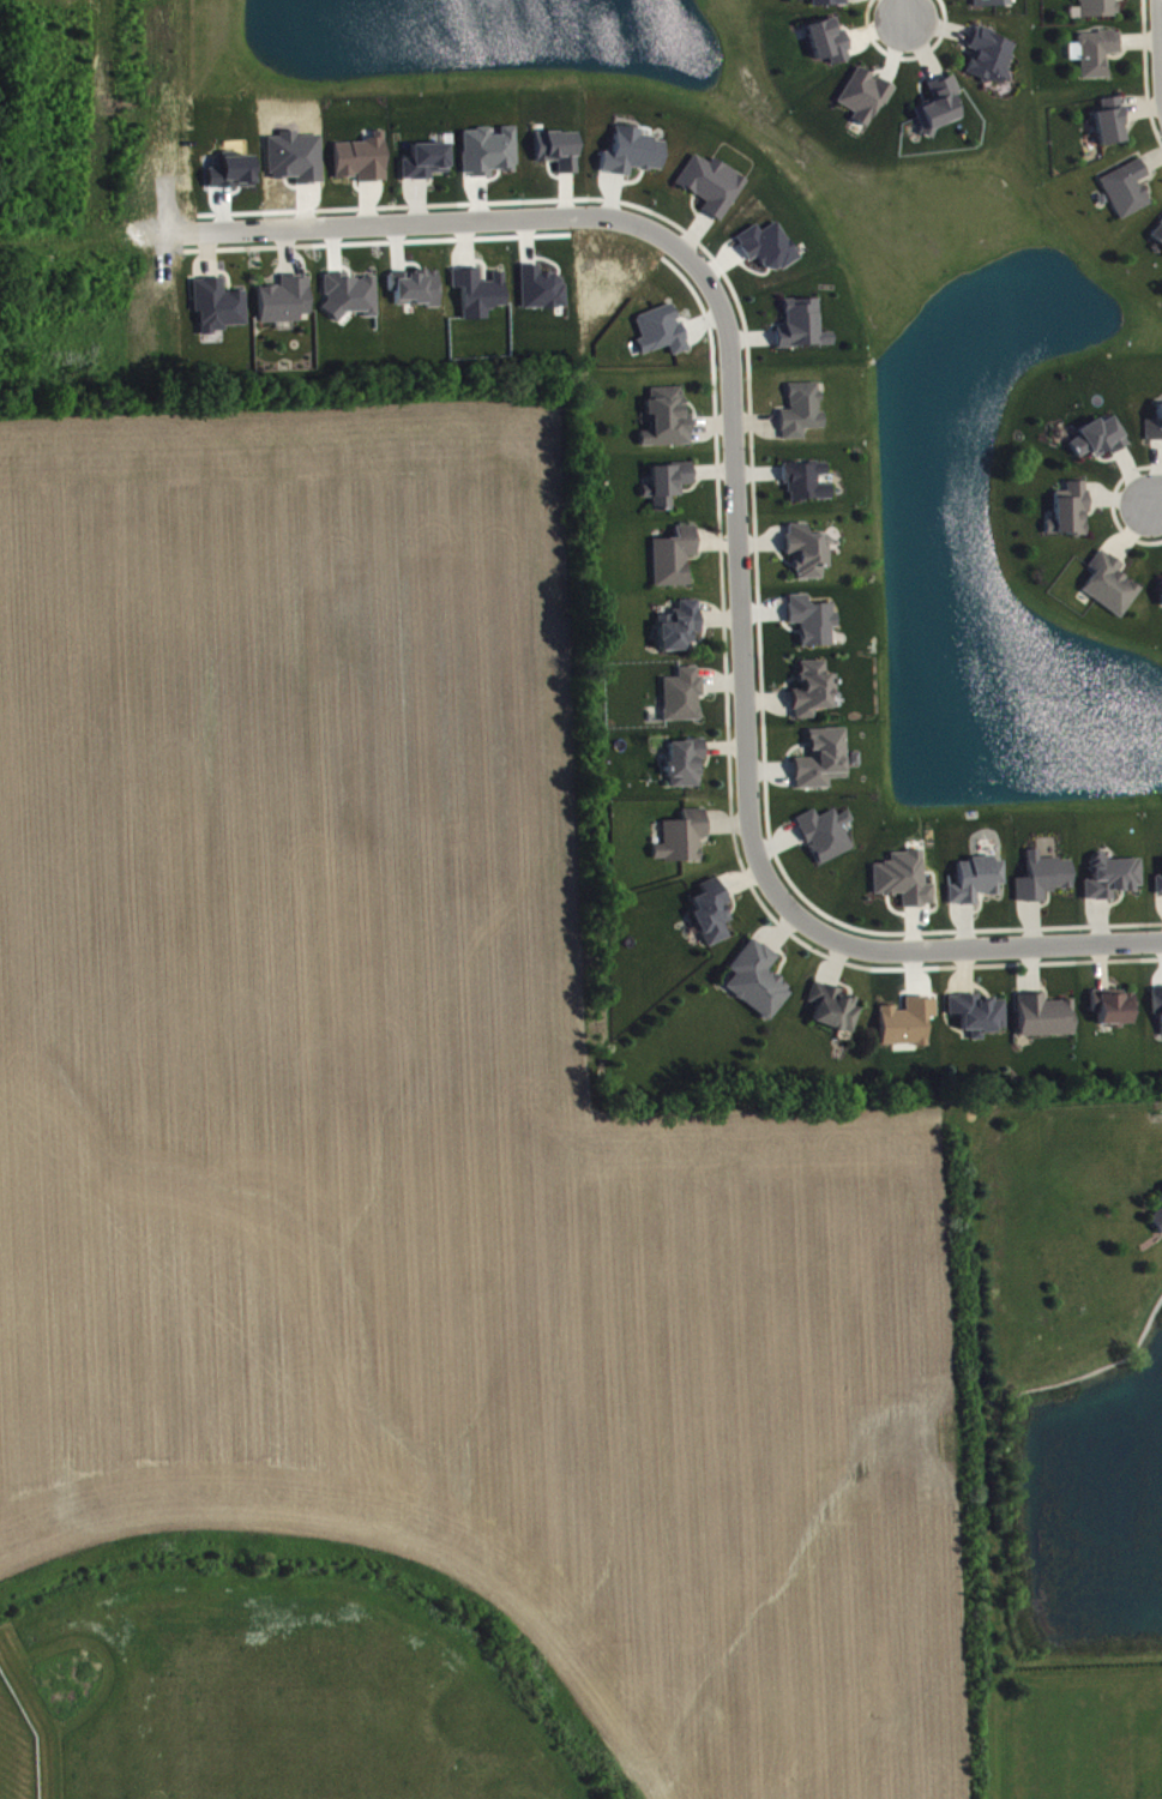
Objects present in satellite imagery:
building: (830, 6)
building: (992, 6)
road: (904, 12)
building: (1097, 12)
road: (1161, 20)
building: (830, 48)
building: (1096, 60)
building: (992, 62)
road: (1145, 73)
building: (865, 103)
building: (939, 114)
building: (1112, 130)
building: (633, 160)
building: (363, 167)
building: (427, 169)
building: (714, 192)
building: (1128, 195)
building: (1157, 242)
building: (769, 254)
building: (417, 295)
building: (351, 302)
building: (287, 307)
building: (218, 313)
building: (803, 332)
building: (662, 338)
road: (727, 339)
building: (803, 419)
building: (668, 427)
building: (1155, 435)
building: (1100, 445)
building: (808, 489)
building: (668, 492)
road: (1152, 497)
building: (1071, 518)
building: (808, 559)
building: (674, 565)
building: (1112, 592)
building: (813, 627)
building: (680, 633)
building: (812, 697)
building: (682, 703)
building: (824, 766)
building: (686, 770)
building: (826, 841)
building: (684, 844)
building: (1112, 884)
building: (1044, 885)
building: (904, 886)
building: (977, 888)
building: (1160, 894)
building: (712, 920)
road: (988, 945)
building: (758, 988)
building: (1157, 1009)
building: (832, 1015)
building: (1114, 1015)
building: (979, 1022)
building: (1046, 1024)
building: (908, 1030)
building: (1161, 1205)
building: (1157, 1228)

